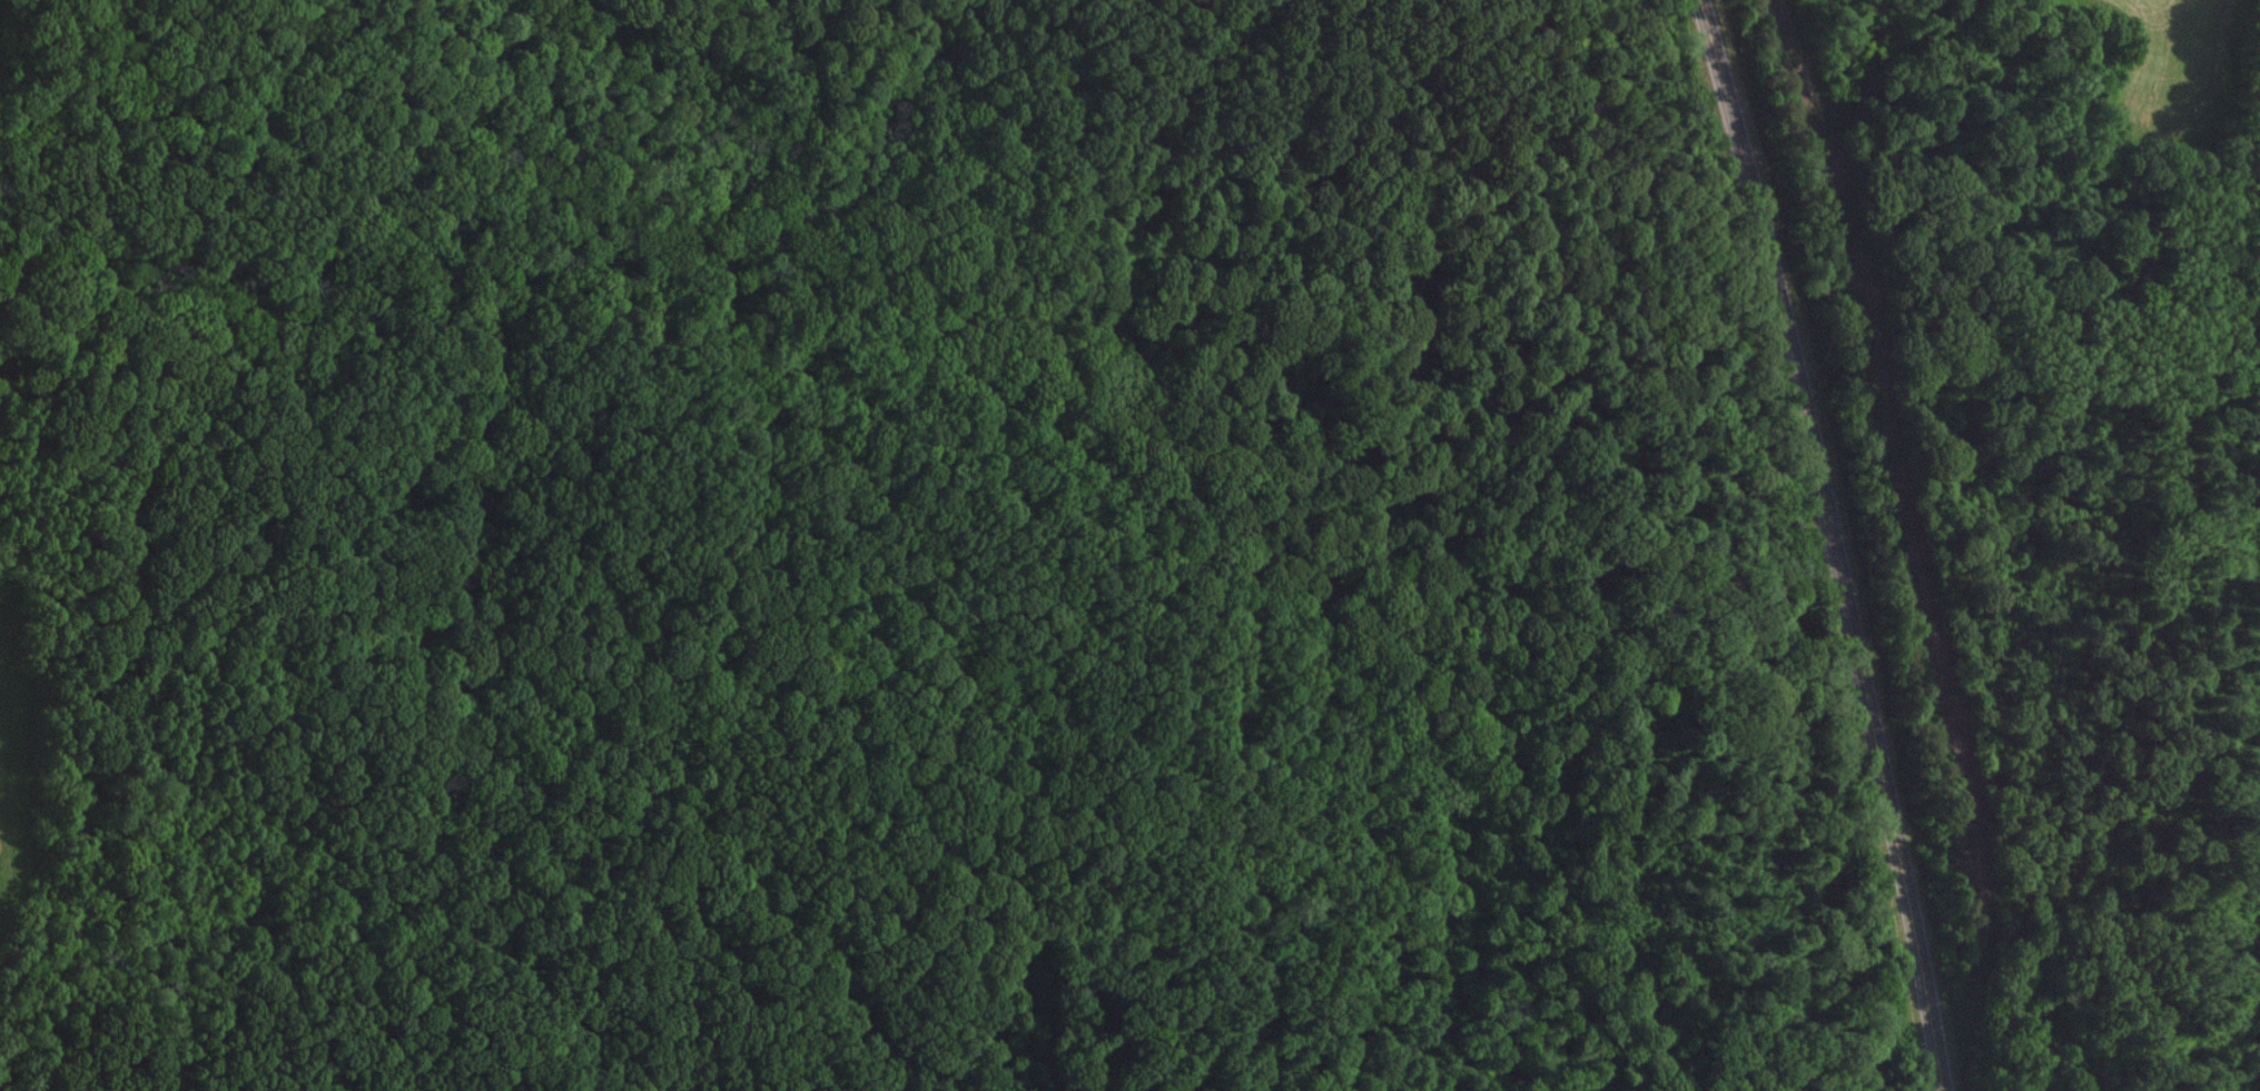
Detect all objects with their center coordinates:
road: (1837, 542)

